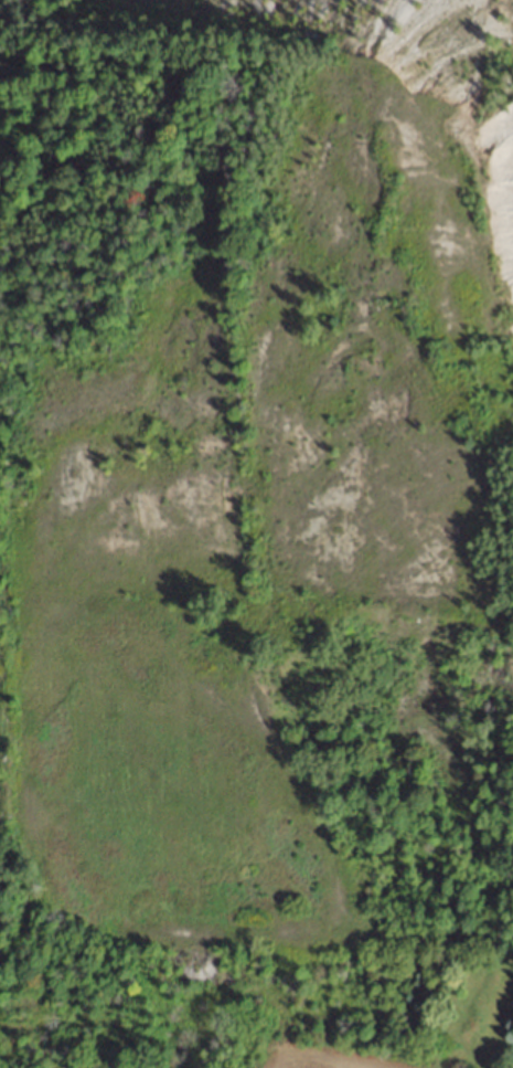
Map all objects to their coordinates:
quarry: (265, 465)

